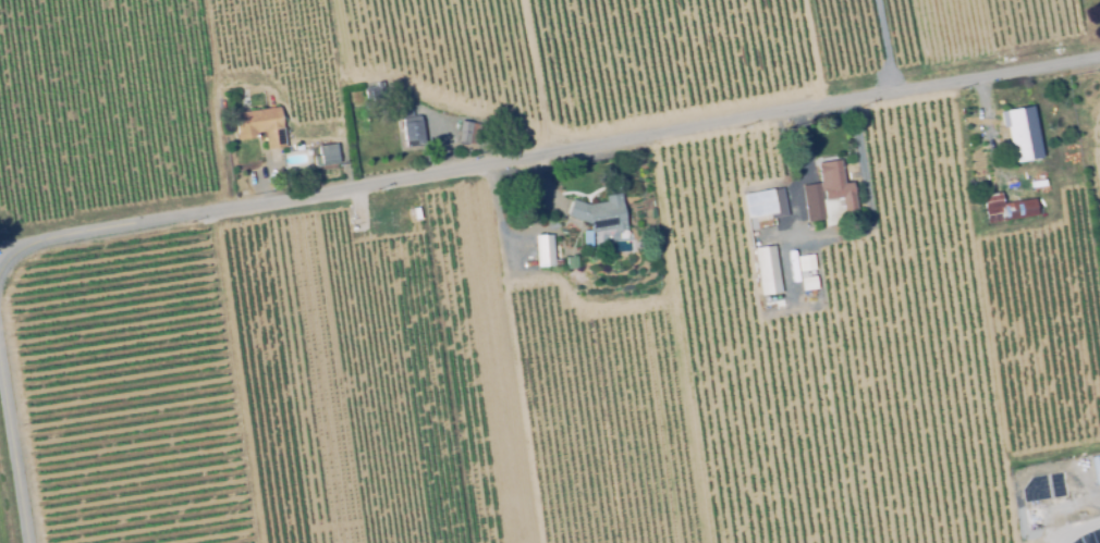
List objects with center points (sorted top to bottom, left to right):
building: (375, 89)
building: (258, 126)
building: (411, 128)
building: (466, 133)
building: (1015, 136)
building: (325, 156)
road: (549, 156)
building: (826, 190)
building: (757, 203)
building: (1006, 208)
building: (829, 213)
building: (598, 214)
building: (758, 233)
building: (584, 237)
building: (545, 251)
building: (570, 263)
building: (806, 263)
building: (763, 270)
building: (807, 282)
building: (523, 324)
building: (535, 361)
road: (12, 445)
road: (1078, 528)

